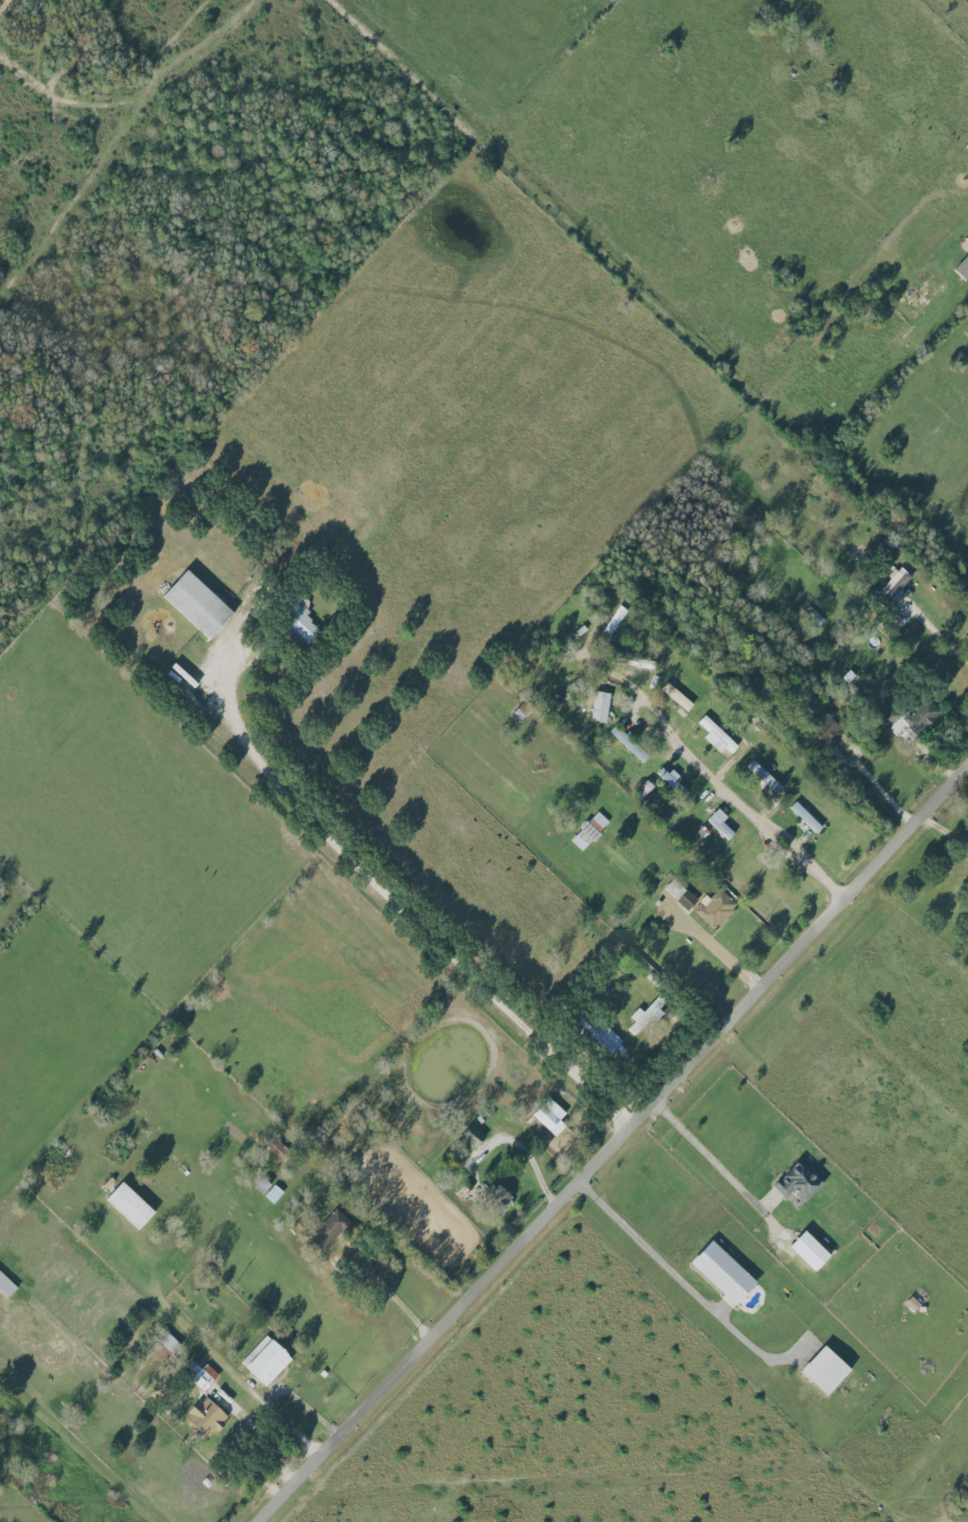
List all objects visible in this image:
building: (963, 268)
road: (738, 369)
building: (896, 585)
building: (198, 604)
building: (302, 622)
road: (945, 637)
building: (677, 696)
building: (601, 707)
building: (907, 719)
building: (826, 730)
building: (720, 740)
building: (629, 744)
building: (763, 777)
building: (671, 779)
road: (879, 791)
road: (742, 799)
building: (806, 817)
building: (720, 823)
building: (592, 828)
building: (680, 895)
building: (715, 908)
road: (410, 911)
road: (719, 945)
building: (597, 1032)
building: (550, 1116)
building: (473, 1135)
road: (613, 1145)
road: (711, 1153)
road: (529, 1156)
building: (800, 1181)
building: (262, 1185)
building: (274, 1193)
building: (499, 1198)
building: (130, 1205)
building: (329, 1229)
building: (810, 1250)
road: (661, 1265)
building: (723, 1272)
building: (6, 1285)
road: (396, 1300)
building: (912, 1304)
building: (168, 1341)
road: (227, 1361)
building: (826, 1370)
building: (205, 1376)
building: (207, 1416)
road: (88, 1455)

